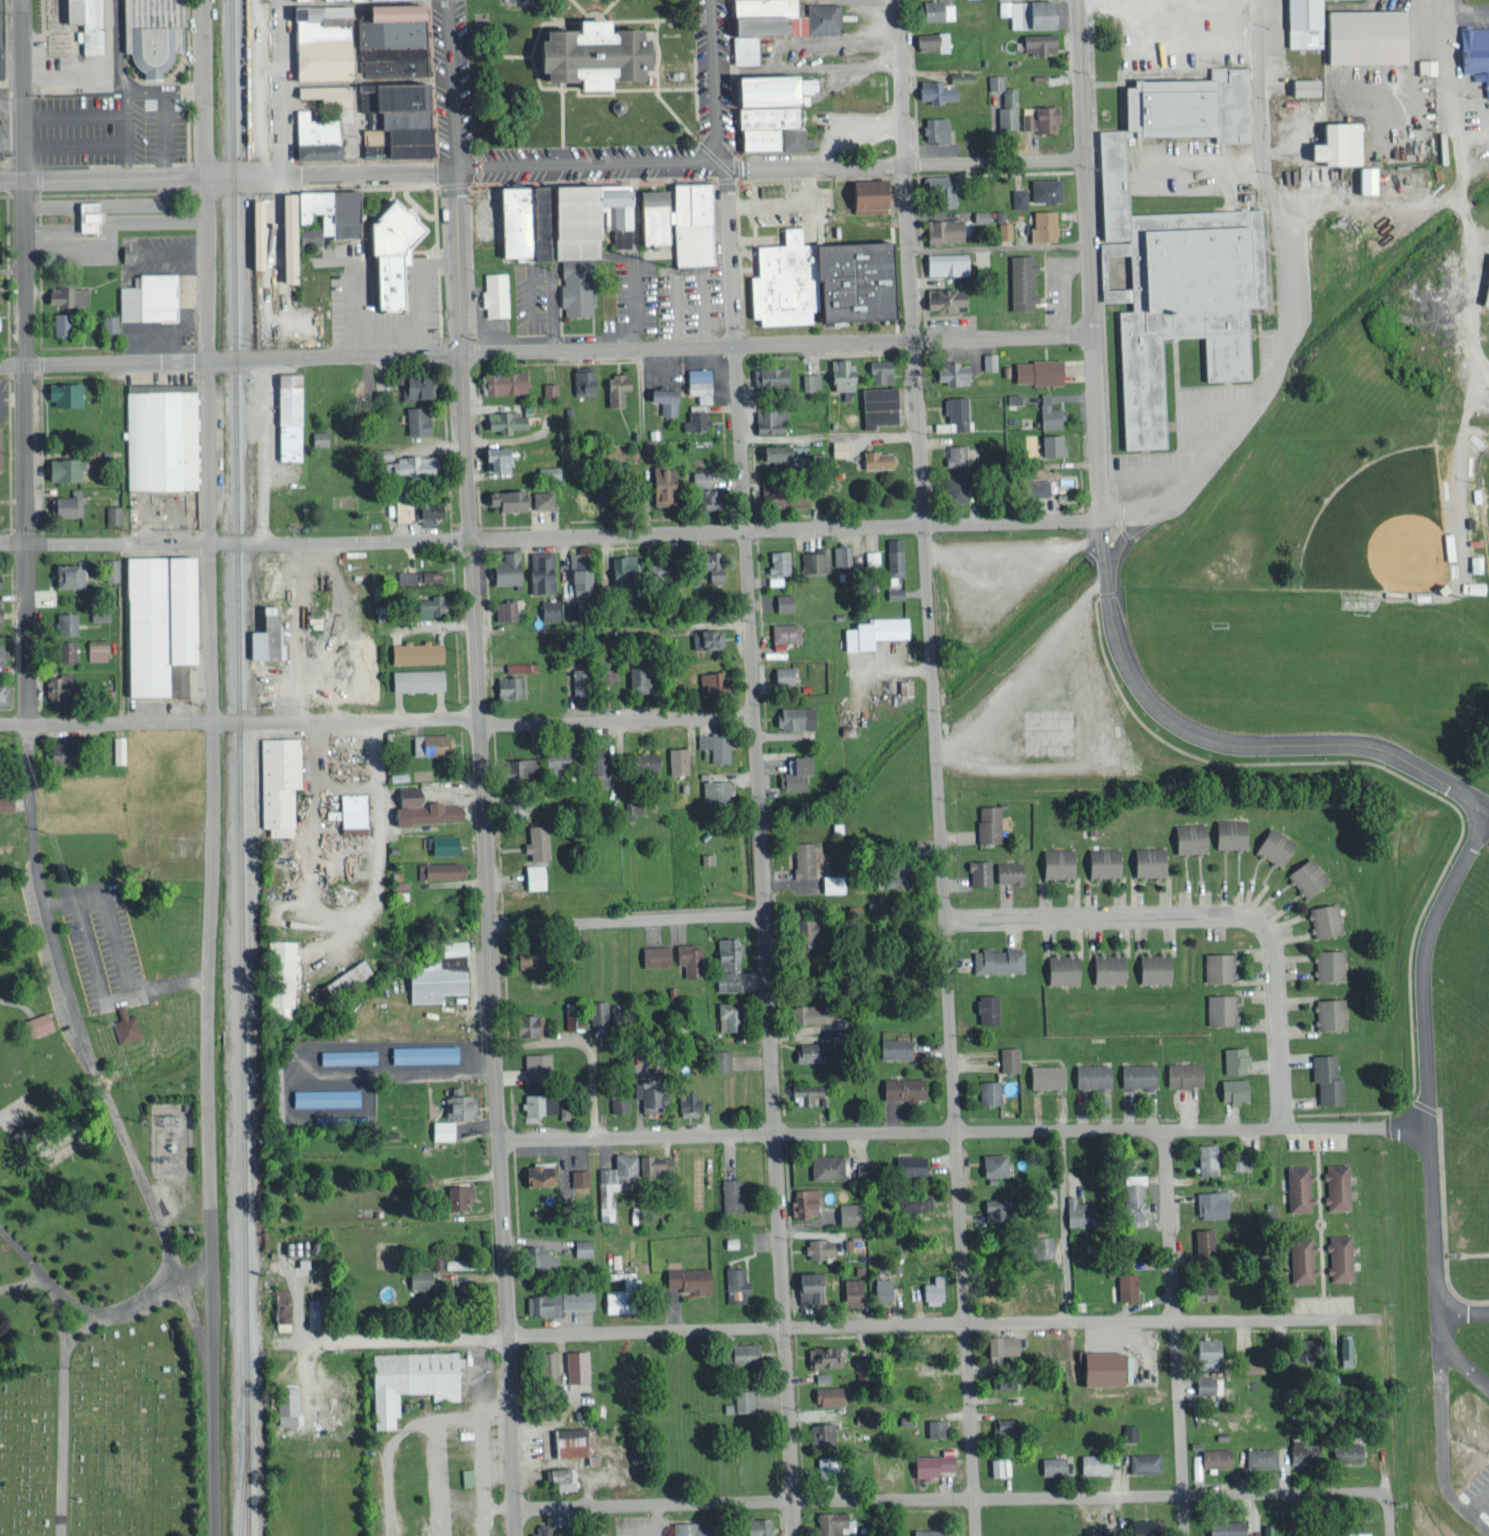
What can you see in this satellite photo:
building: (933, 10)
building: (1027, 12)
building: (81, 22)
building: (771, 22)
building: (1299, 23)
building: (1, 25)
building: (152, 35)
building: (1361, 35)
building: (354, 40)
building: (930, 40)
building: (1035, 42)
building: (0, 51)
building: (1474, 51)
building: (593, 58)
building: (1424, 66)
park: (580, 72)
building: (956, 76)
building: (993, 80)
road: (717, 82)
road: (450, 83)
road: (281, 85)
building: (1298, 85)
building: (933, 91)
building: (322, 93)
building: (1005, 108)
building: (765, 110)
building: (395, 118)
building: (1038, 118)
road: (1461, 120)
parking lot: (5, 124)
building: (935, 133)
building: (313, 136)
building: (1330, 143)
road: (903, 161)
road: (588, 165)
road: (226, 172)
building: (1363, 179)
building: (938, 187)
building: (1042, 188)
building: (864, 195)
building: (1016, 197)
building: (978, 215)
building: (557, 219)
building: (83, 220)
building: (673, 220)
building: (1040, 224)
building: (1002, 229)
building: (939, 230)
building: (250, 233)
building: (306, 235)
building: (281, 236)
building: (1174, 248)
building: (943, 263)
building: (1018, 281)
building: (573, 286)
road: (1287, 287)
building: (821, 288)
building: (492, 293)
building: (64, 294)
building: (147, 297)
building: (940, 298)
road: (1466, 306)
building: (57, 322)
building: (107, 322)
road: (775, 342)
road: (230, 358)
building: (985, 361)
building: (876, 370)
building: (1034, 371)
building: (949, 373)
building: (767, 376)
building: (839, 377)
building: (808, 380)
building: (500, 381)
building: (580, 382)
building: (697, 383)
building: (414, 386)
building: (546, 388)
building: (613, 388)
building: (66, 393)
building: (1010, 398)
building: (660, 399)
parking lot: (4, 400)
building: (874, 405)
building: (953, 411)
building: (1046, 412)
building: (695, 419)
building: (765, 419)
building: (414, 420)
building: (500, 420)
building: (159, 435)
building: (317, 437)
building: (1049, 444)
building: (836, 447)
building: (780, 452)
building: (953, 454)
building: (492, 457)
building: (873, 458)
building: (400, 462)
building: (59, 468)
building: (697, 478)
building: (657, 485)
building: (1029, 487)
building: (953, 488)
park: (1484, 492)
building: (581, 497)
building: (499, 498)
building: (699, 498)
building: (539, 499)
building: (790, 499)
building: (63, 503)
building: (426, 508)
building: (111, 513)
road: (803, 527)
park: (1381, 528)
road: (1101, 537)
road: (234, 542)
building: (1445, 545)
building: (839, 554)
building: (869, 556)
building: (891, 556)
road: (1123, 558)
building: (571, 559)
building: (813, 560)
building: (776, 561)
building: (1472, 563)
building: (622, 564)
building: (708, 565)
building: (503, 568)
building: (650, 568)
building: (109, 569)
building: (539, 572)
building: (65, 574)
building: (415, 575)
building: (2, 576)
building: (575, 580)
building: (1471, 586)
building: (892, 592)
building: (783, 601)
building: (427, 604)
building: (547, 608)
building: (501, 609)
building: (2, 612)
building: (152, 620)
building: (63, 622)
road: (209, 627)
building: (871, 631)
building: (782, 632)
building: (263, 634)
building: (705, 637)
building: (95, 648)
building: (62, 650)
building: (412, 651)
building: (3, 653)
road: (26, 653)
building: (515, 666)
building: (780, 674)
building: (172, 679)
building: (414, 679)
building: (635, 679)
building: (708, 681)
building: (60, 683)
building: (506, 686)
building: (903, 687)
building: (4, 693)
road: (615, 717)
building: (792, 717)
road: (239, 725)
building: (428, 743)
building: (713, 745)
building: (117, 748)
building: (69, 752)
building: (675, 760)
building: (550, 761)
building: (642, 763)
building: (595, 765)
road: (1021, 765)
railway: (243, 767)
building: (300, 767)
building: (514, 767)
road: (937, 767)
building: (793, 772)
building: (276, 784)
building: (712, 790)
building: (8, 801)
building: (419, 808)
building: (350, 809)
building: (985, 822)
building: (1227, 833)
building: (1186, 837)
building: (533, 842)
building: (439, 843)
building: (1272, 845)
road: (760, 849)
road: (485, 851)
building: (705, 858)
building: (802, 858)
building: (1100, 861)
building: (1146, 861)
building: (1055, 862)
building: (437, 870)
building: (1006, 871)
building: (976, 872)
building: (1304, 875)
building: (532, 876)
building: (885, 876)
building: (833, 882)
road: (1107, 915)
road: (626, 919)
building: (1323, 919)
building: (801, 931)
building: (449, 946)
building: (652, 955)
building: (687, 958)
building: (995, 959)
building: (725, 963)
building: (1327, 964)
building: (1216, 966)
building: (1106, 968)
building: (1151, 968)
building: (1060, 969)
building: (280, 972)
building: (343, 977)
building: (433, 978)
building: (985, 1008)
building: (1218, 1009)
building: (595, 1010)
building: (806, 1012)
building: (1327, 1012)
building: (725, 1014)
building: (44, 1021)
building: (519, 1023)
building: (128, 1024)
road: (1276, 1027)
road: (1425, 1046)
building: (891, 1047)
building: (804, 1050)
building: (422, 1052)
building: (345, 1055)
building: (1006, 1058)
building: (1232, 1058)
building: (719, 1059)
building: (533, 1062)
building: (1179, 1073)
building: (1134, 1074)
building: (1043, 1075)
building: (1088, 1075)
park: (98, 1076)
building: (1323, 1078)
building: (901, 1087)
building: (1230, 1089)
building: (804, 1090)
building: (987, 1091)
building: (646, 1093)
building: (324, 1096)
building: (617, 1101)
building: (684, 1101)
building: (536, 1102)
building: (455, 1103)
road: (1262, 1124)
building: (440, 1128)
road: (831, 1133)
building: (25, 1134)
building: (1204, 1157)
railway: (236, 1163)
building: (653, 1163)
building: (990, 1163)
building: (1239, 1163)
building: (907, 1164)
building: (823, 1165)
building: (535, 1172)
building: (577, 1176)
building: (611, 1180)
building: (1333, 1185)
building: (1295, 1187)
building: (728, 1193)
building: (455, 1194)
building: (1130, 1198)
building: (912, 1200)
building: (804, 1201)
building: (988, 1204)
building: (1072, 1211)
building: (844, 1212)
building: (1200, 1240)
building: (1122, 1241)
building: (581, 1246)
building: (816, 1246)
building: (1038, 1246)
road: (23, 1251)
building: (539, 1256)
building: (1337, 1256)
building: (1299, 1258)
building: (455, 1261)
building: (417, 1277)
building: (684, 1277)
building: (733, 1284)
building: (1123, 1285)
building: (804, 1286)
building: (881, 1288)
building: (1200, 1288)
building: (929, 1289)
building: (849, 1291)
building: (279, 1293)
building: (609, 1300)
building: (555, 1301)
road: (194, 1311)
road: (103, 1315)
road: (1445, 1324)
road: (934, 1326)
road: (1173, 1331)
road: (77, 1335)
road: (417, 1340)
building: (999, 1343)
building: (1342, 1350)
building: (1202, 1351)
building: (739, 1352)
building: (821, 1355)
building: (921, 1357)
building: (573, 1365)
building: (1098, 1367)
building: (545, 1368)
building: (821, 1376)
building: (407, 1379)
building: (1000, 1380)
building: (1205, 1383)
building: (826, 1394)
road: (210, 1395)
building: (740, 1399)
building: (283, 1404)
road: (62, 1411)
building: (999, 1424)
building: (932, 1427)
building: (1126, 1431)
building: (815, 1432)
park: (101, 1439)
building: (563, 1441)
building: (1300, 1450)
building: (1342, 1451)
building: (1257, 1456)
building: (1209, 1457)
building: (1140, 1462)
building: (1091, 1463)
building: (824, 1464)
building: (927, 1464)
building: (1049, 1464)
building: (992, 1466)
building: (464, 1476)
building: (560, 1476)
road: (970, 1498)
building: (832, 1523)
building: (753, 1526)
building: (690, 1528)
building: (1135, 1528)
building: (1222, 1528)
building: (538, 1529)
building: (925, 1532)
building: (1345, 1533)

